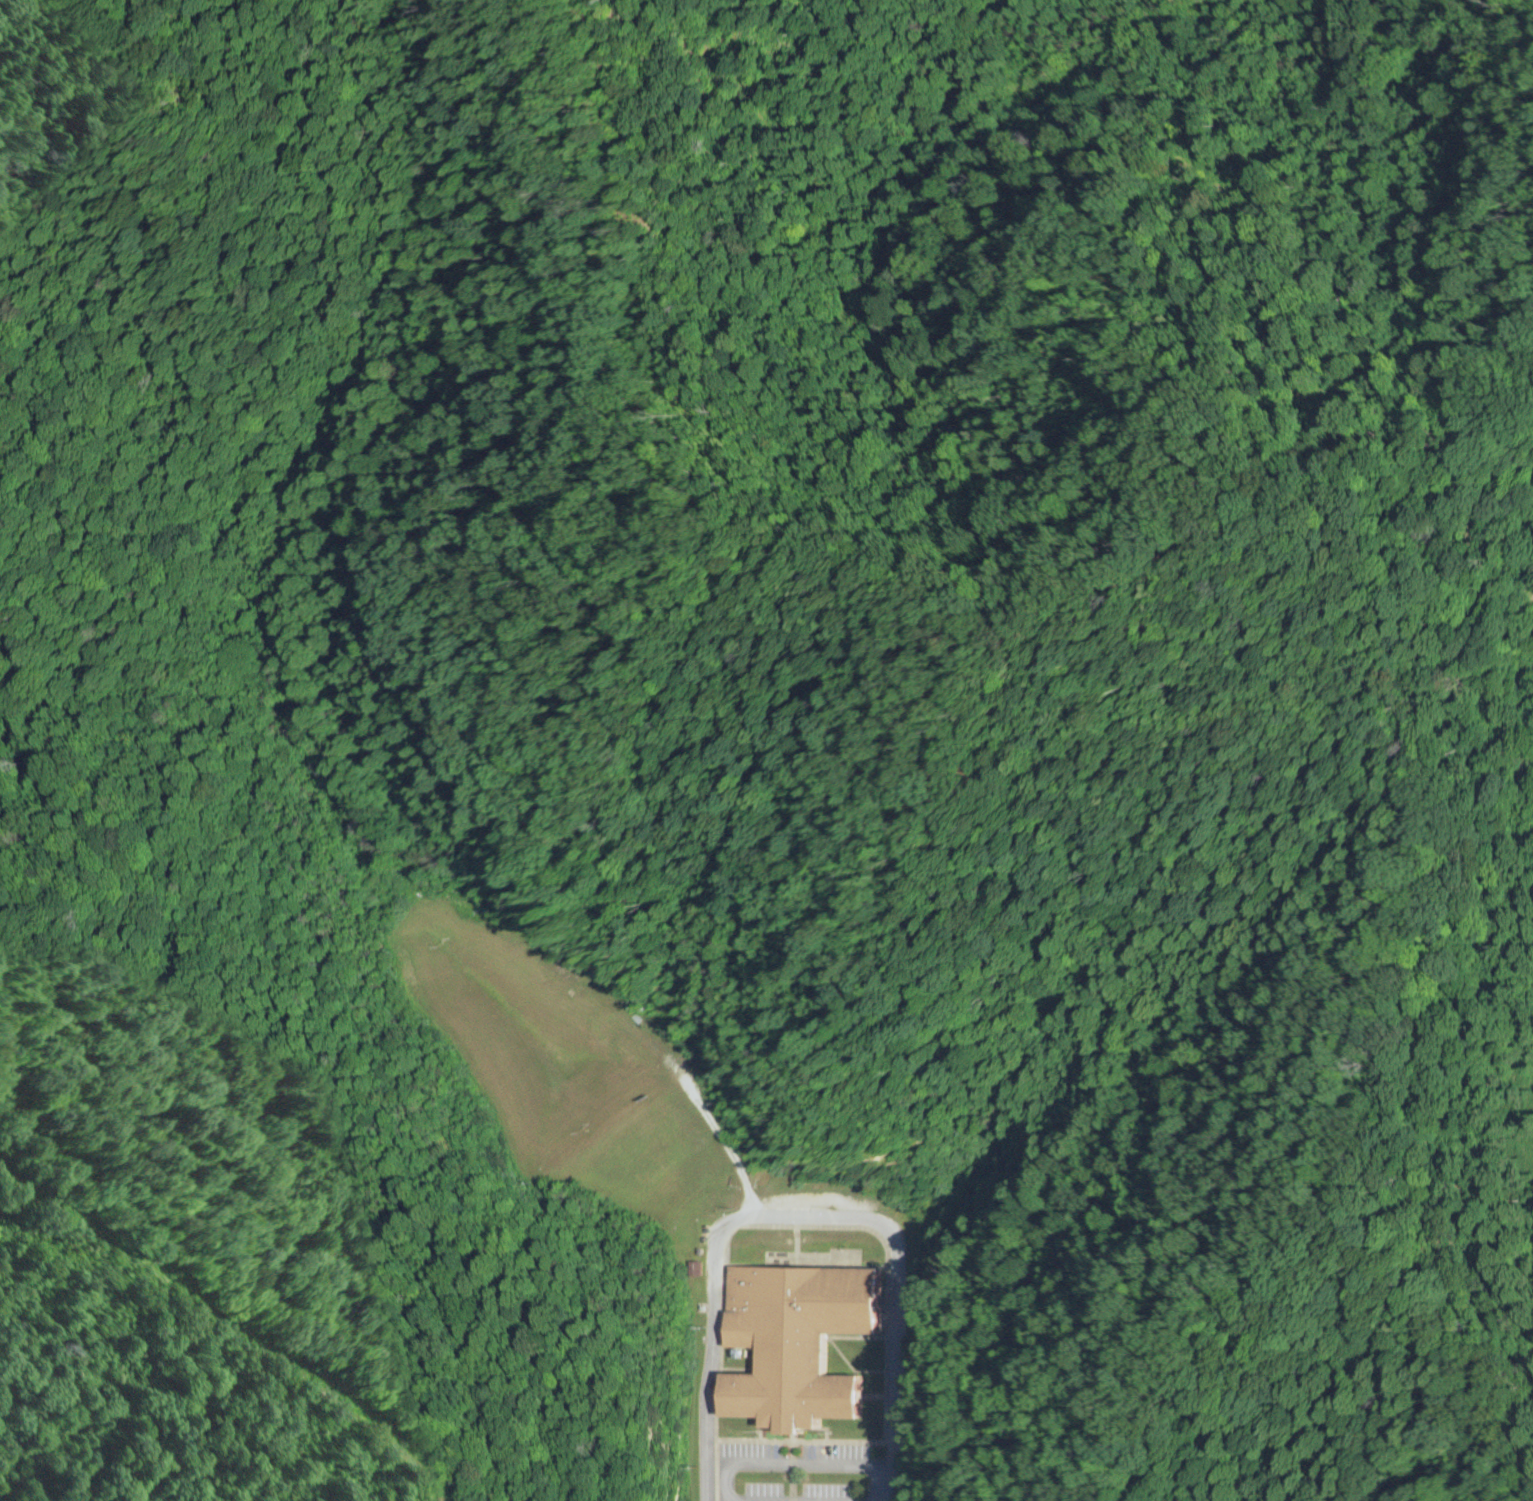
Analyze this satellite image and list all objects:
road: (804, 1222)
building: (794, 1343)
road: (1532, 1429)
road: (798, 1464)

